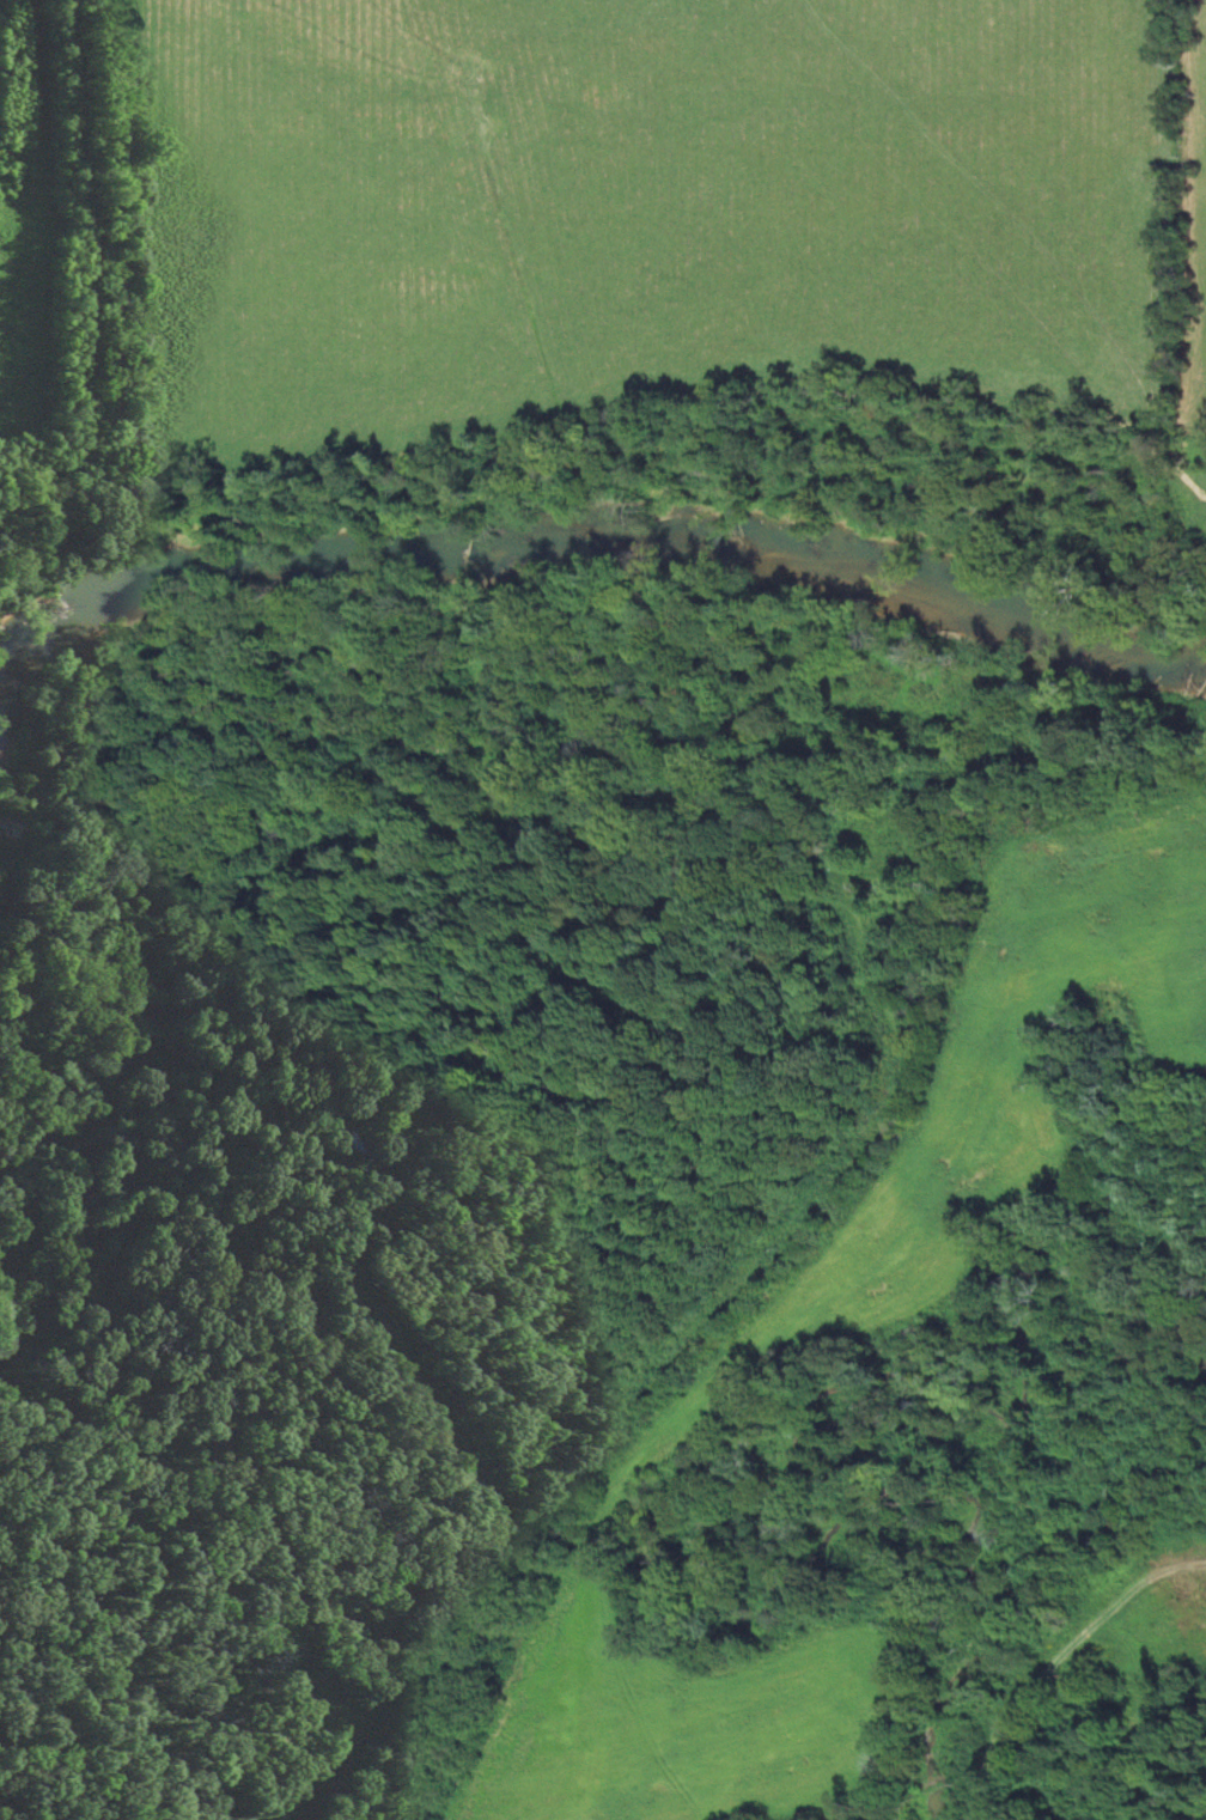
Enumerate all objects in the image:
river: (598, 535)

